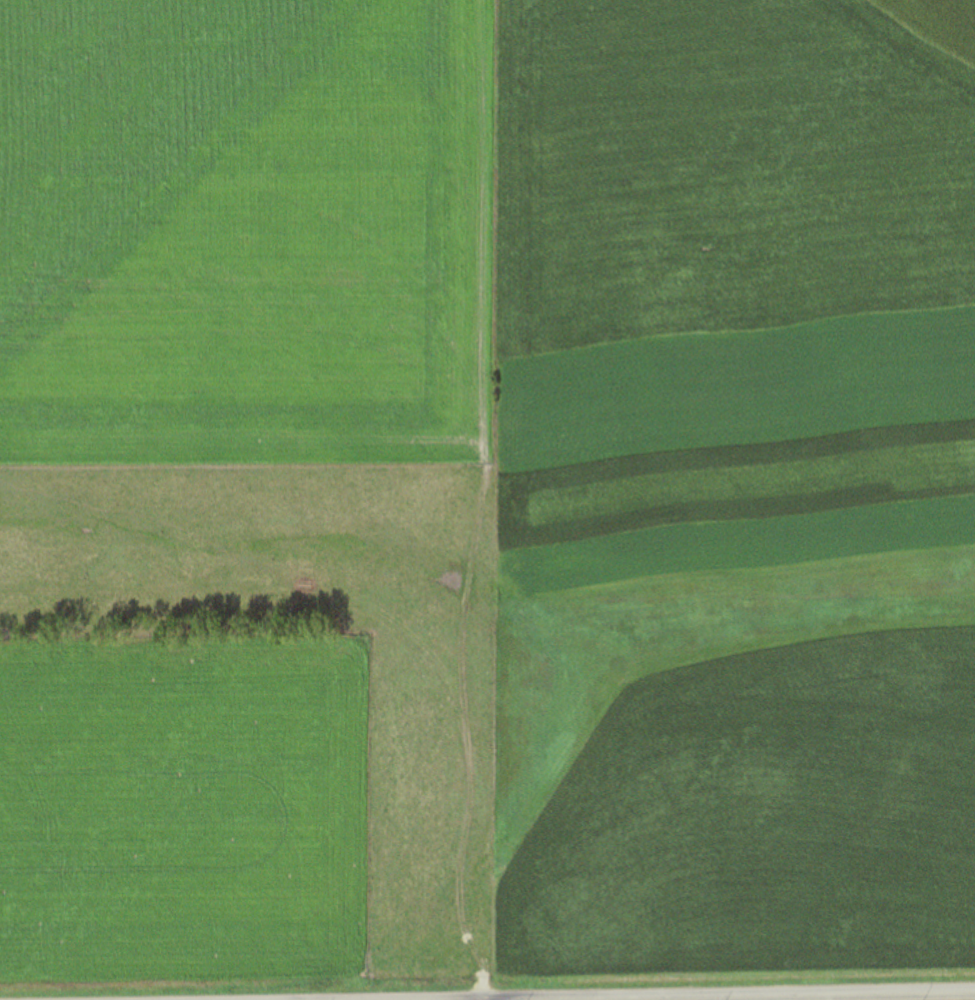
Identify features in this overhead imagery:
road: (755, 995)

